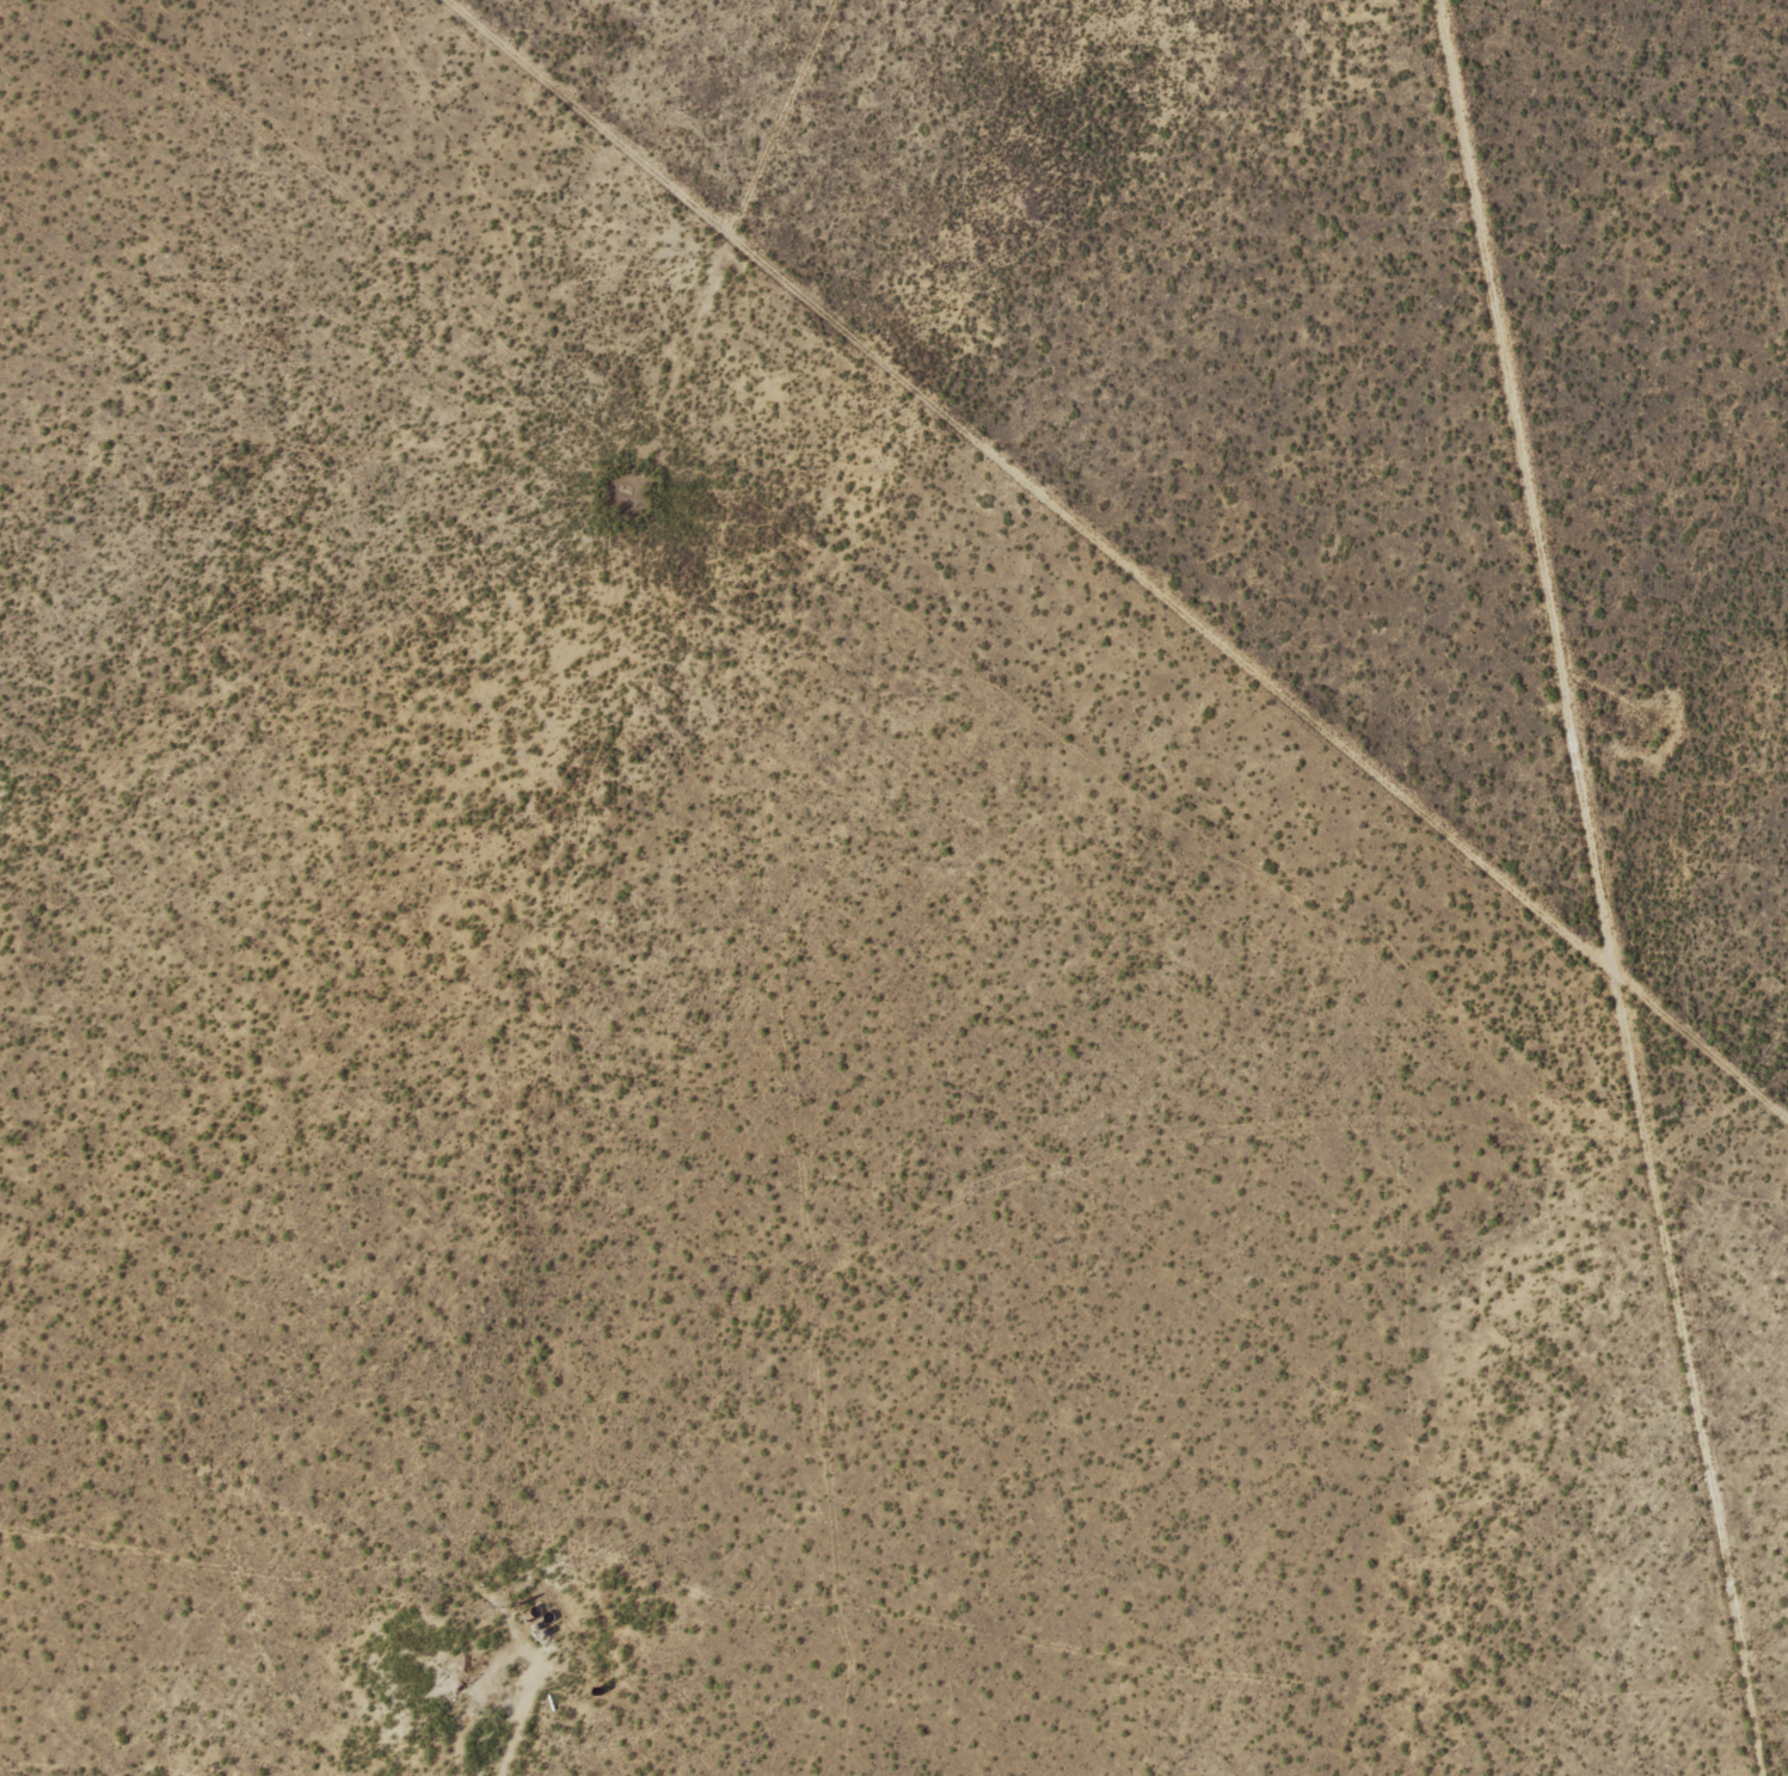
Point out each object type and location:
road: (116, 1760)

